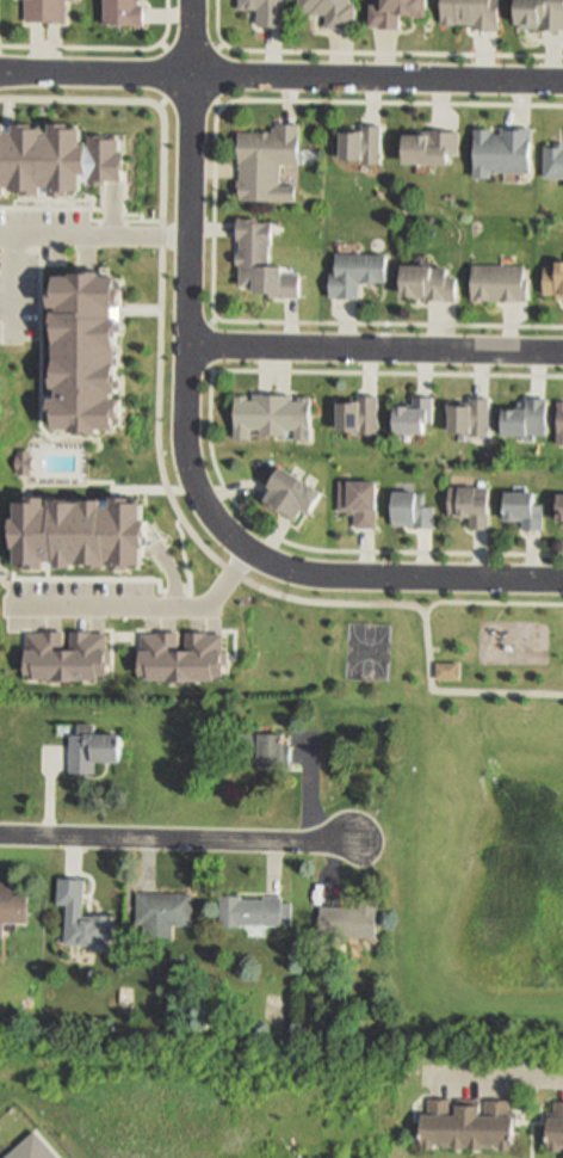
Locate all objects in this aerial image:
building: (43, 10)
building: (267, 10)
building: (332, 11)
building: (396, 11)
building: (122, 12)
building: (471, 12)
building: (539, 13)
road: (193, 37)
road: (103, 49)
road: (192, 51)
road: (367, 54)
road: (18, 70)
road: (18, 76)
road: (165, 76)
road: (216, 76)
road: (298, 76)
road: (190, 103)
building: (364, 144)
building: (433, 146)
building: (503, 150)
building: (55, 159)
building: (268, 162)
building: (553, 162)
road: (214, 216)
building: (78, 233)
road: (57, 234)
building: (19, 252)
building: (264, 261)
building: (357, 272)
building: (553, 279)
building: (431, 282)
building: (501, 282)
road: (209, 345)
road: (375, 350)
building: (83, 352)
building: (17, 405)
building: (270, 415)
building: (354, 417)
building: (410, 417)
building: (465, 417)
building: (524, 418)
building: (559, 424)
road: (210, 438)
road: (163, 478)
road: (194, 483)
building: (286, 494)
building: (355, 501)
building: (471, 505)
building: (559, 507)
building: (524, 510)
building: (408, 511)
building: (79, 532)
road: (490, 604)
road: (137, 605)
park: (370, 652)
building: (181, 654)
building: (66, 655)
building: (447, 670)
building: (264, 746)
building: (89, 750)
park: (465, 805)
road: (175, 840)
building: (12, 906)
building: (255, 910)
building: (163, 911)
building: (85, 918)
building: (352, 918)
road: (495, 1079)
building: (466, 1123)
building: (556, 1127)
building: (29, 1148)

